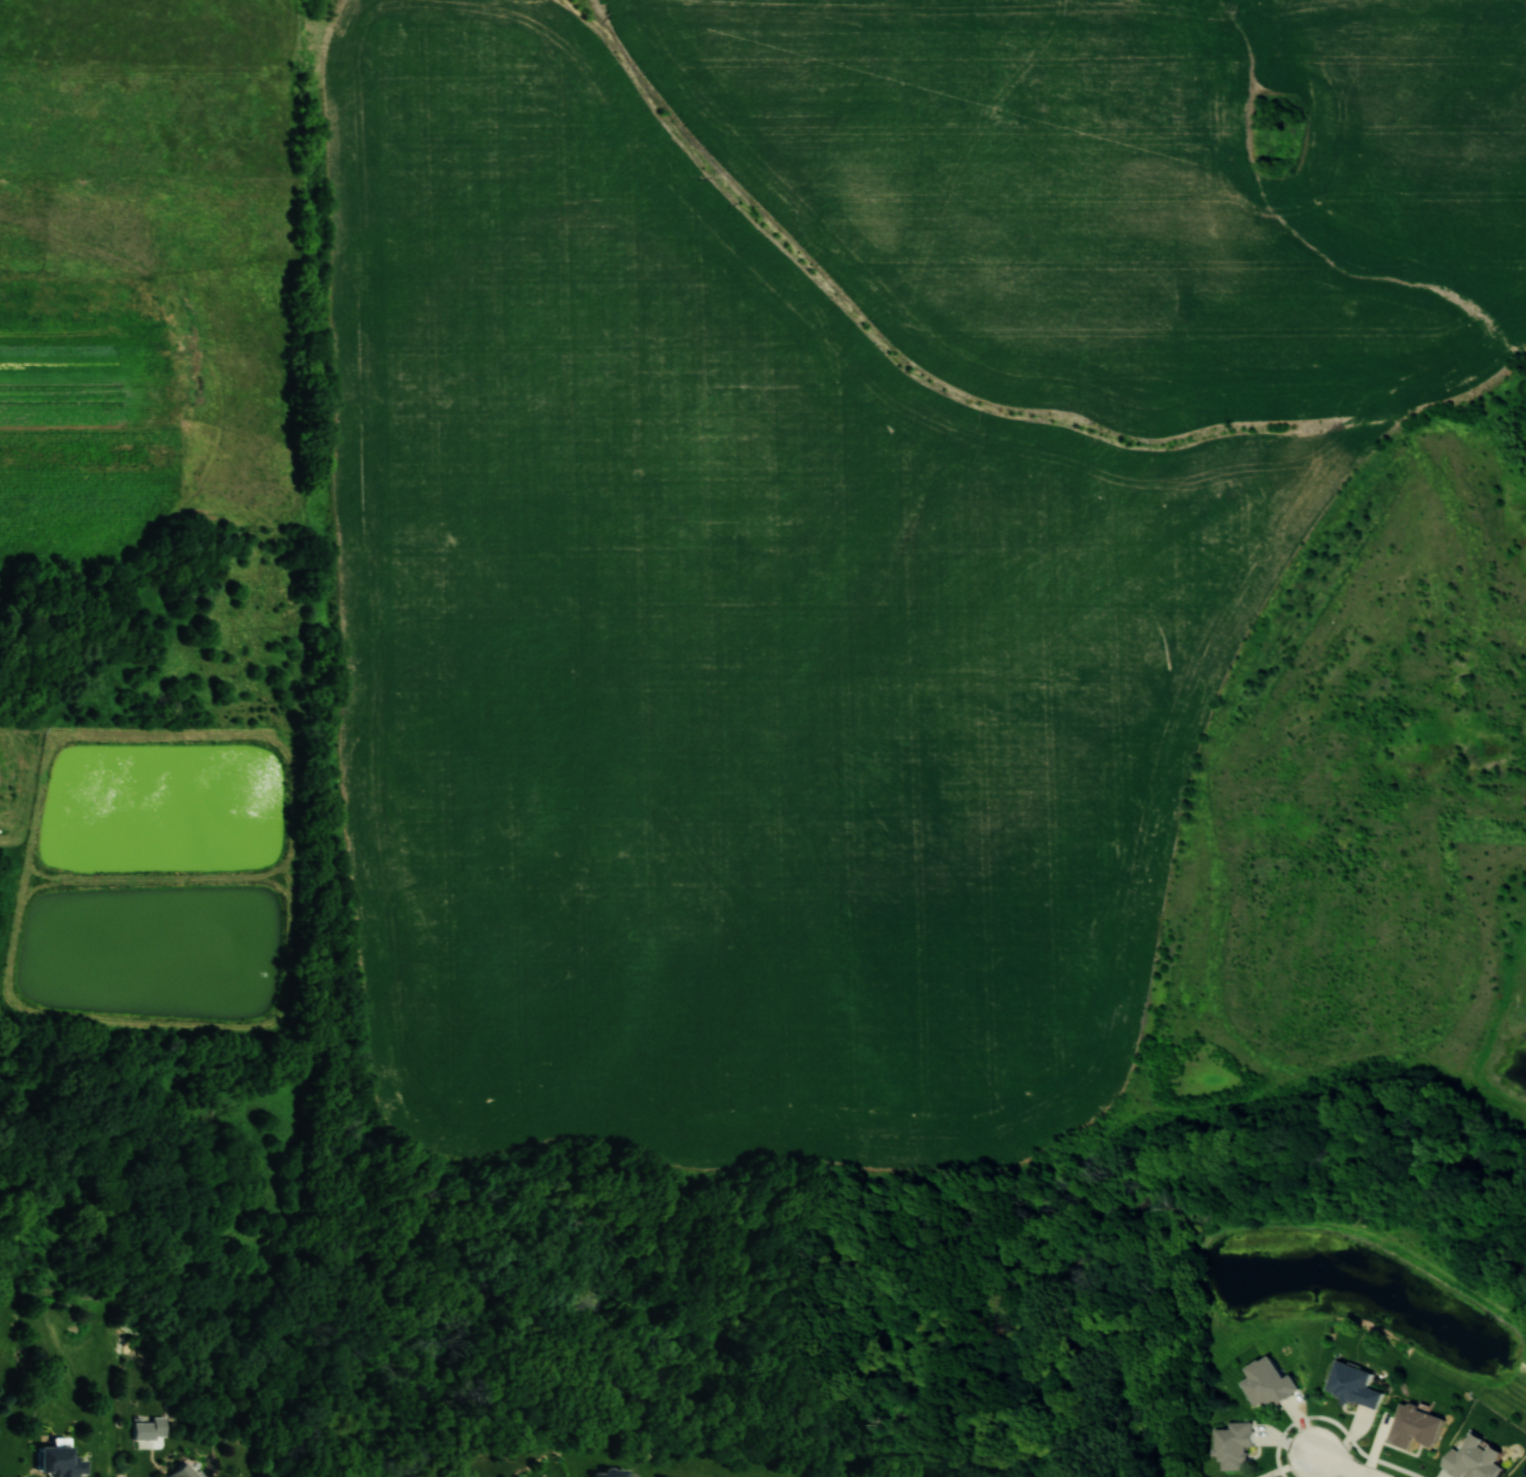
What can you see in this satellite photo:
building: (1264, 1381)
building: (1351, 1383)
road: (1334, 1421)
building: (1412, 1425)
building: (146, 1430)
building: (1230, 1444)
building: (62, 1462)
road: (1345, 1464)
building: (185, 1471)
building: (616, 1473)

